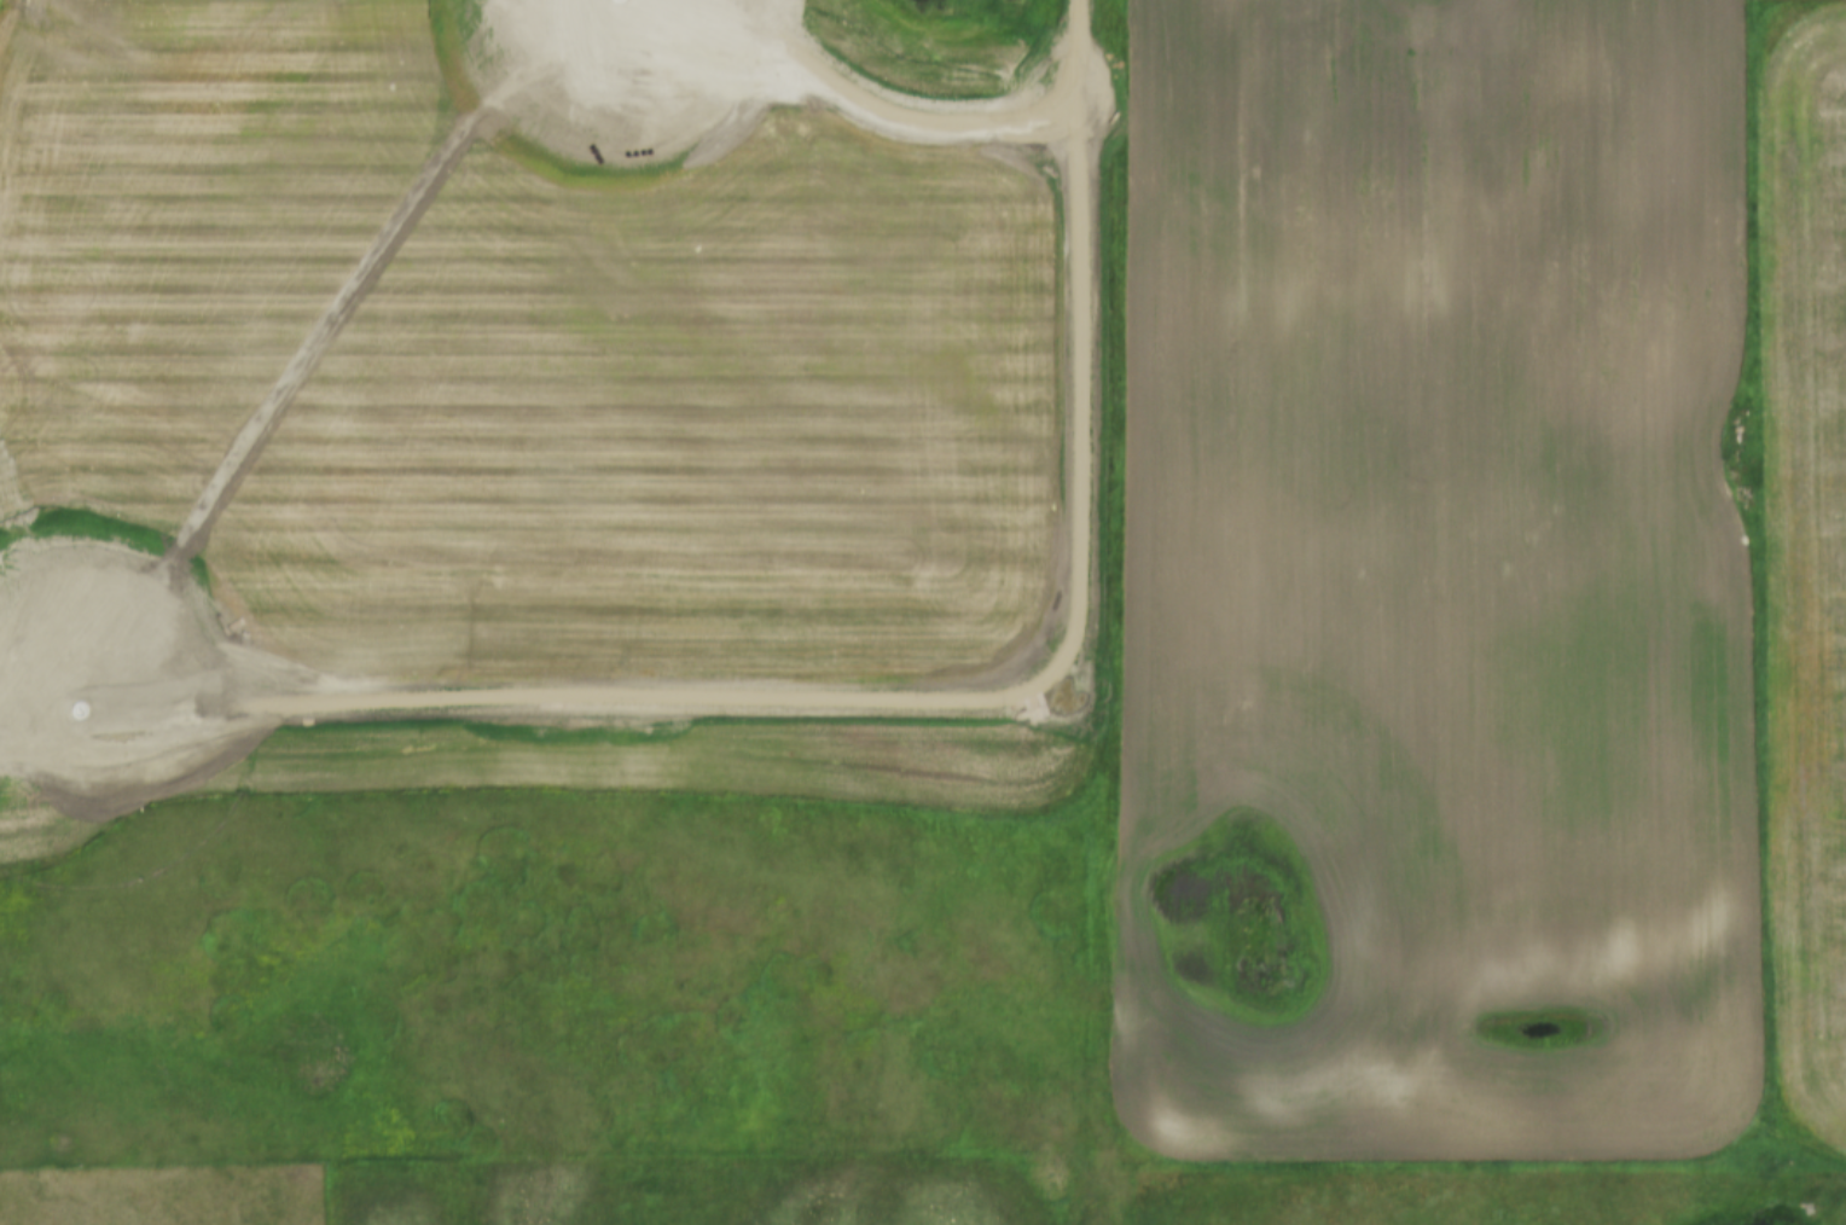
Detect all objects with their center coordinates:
road: (1125, 611)
wind turbine: (75, 716)

